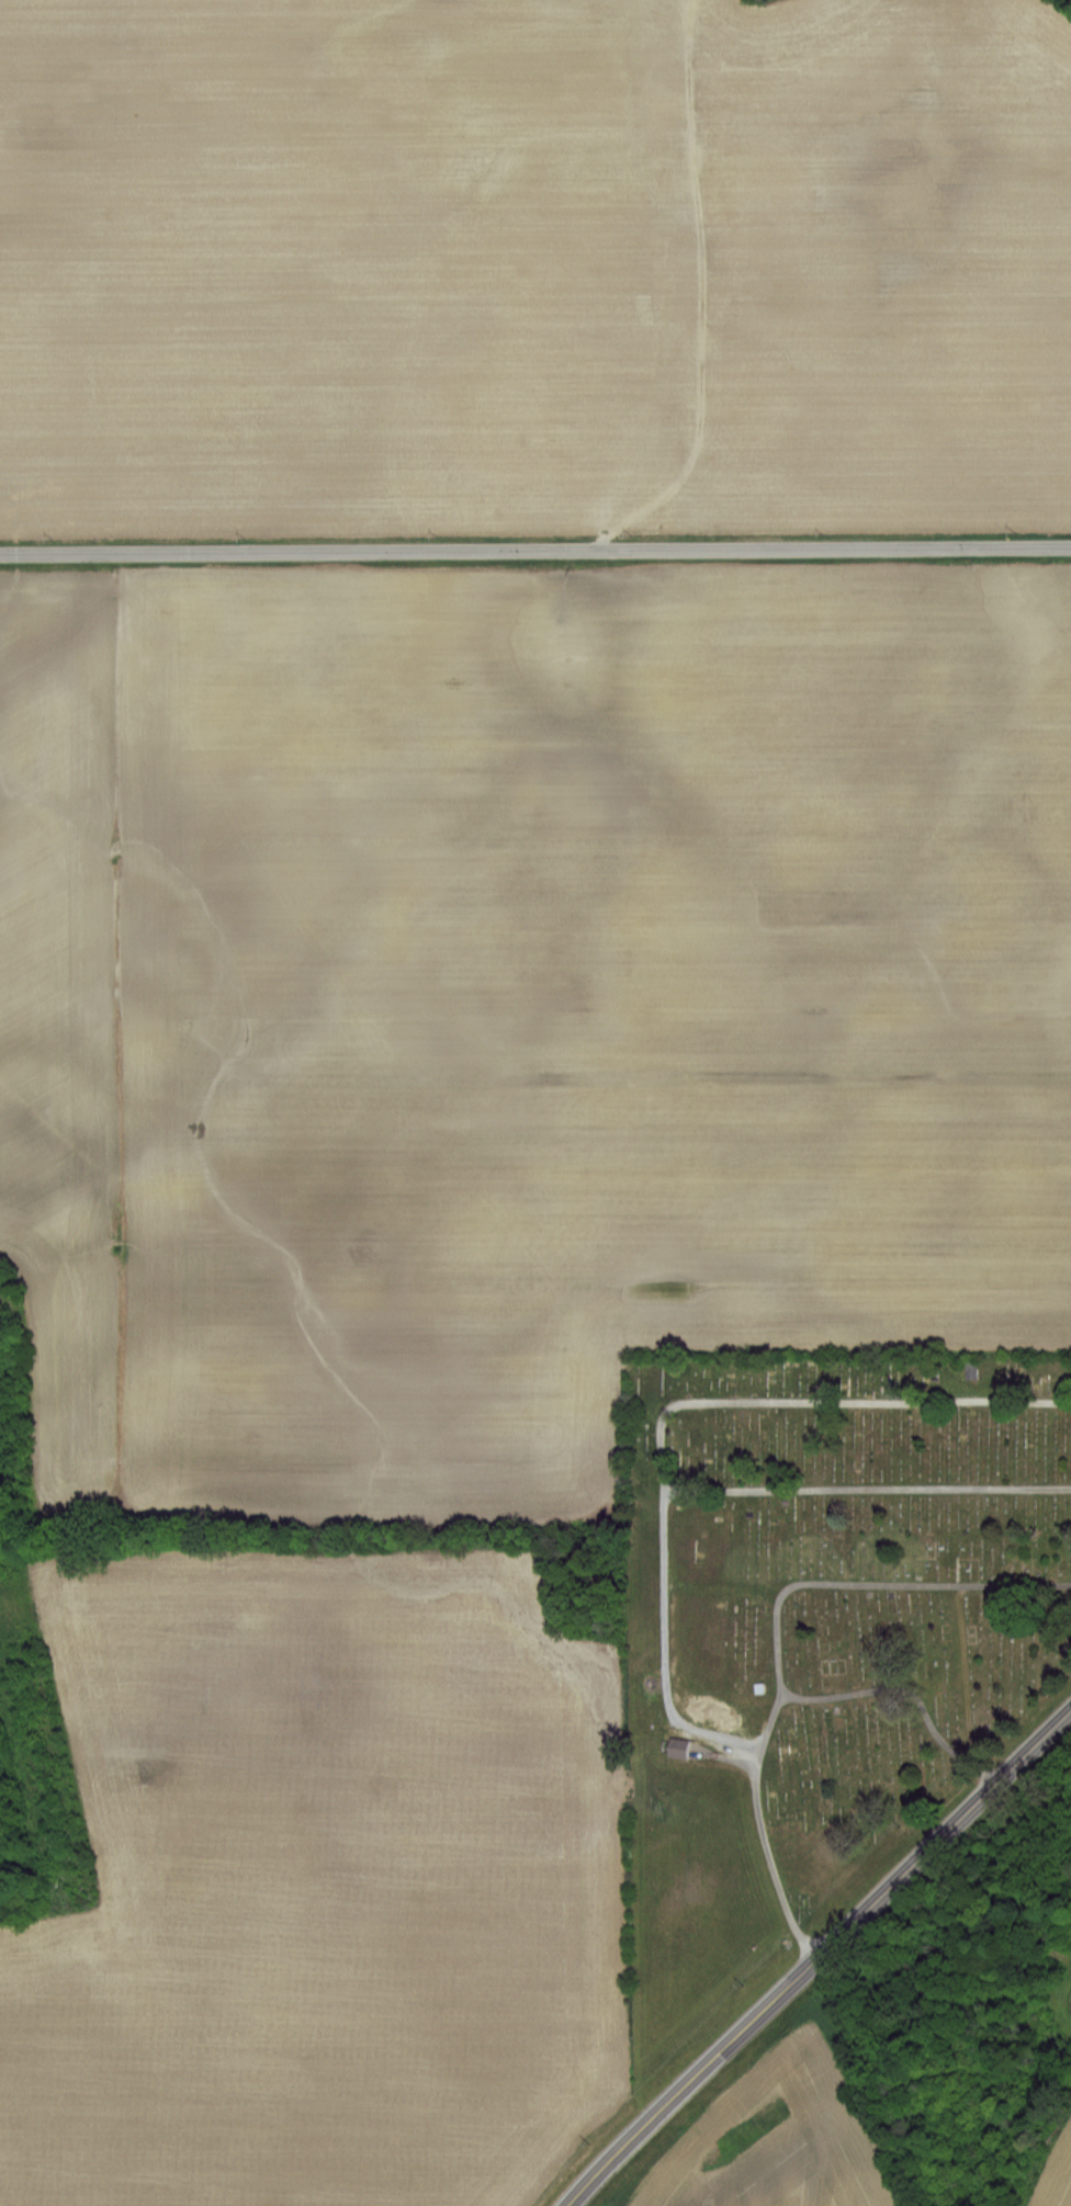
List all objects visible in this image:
crop: (356, 259)
road: (535, 545)
crop: (582, 864)
road: (661, 1441)
road: (668, 1563)
road: (777, 1631)
park: (821, 1639)
road: (906, 1683)
building: (674, 1747)
road: (815, 1949)

